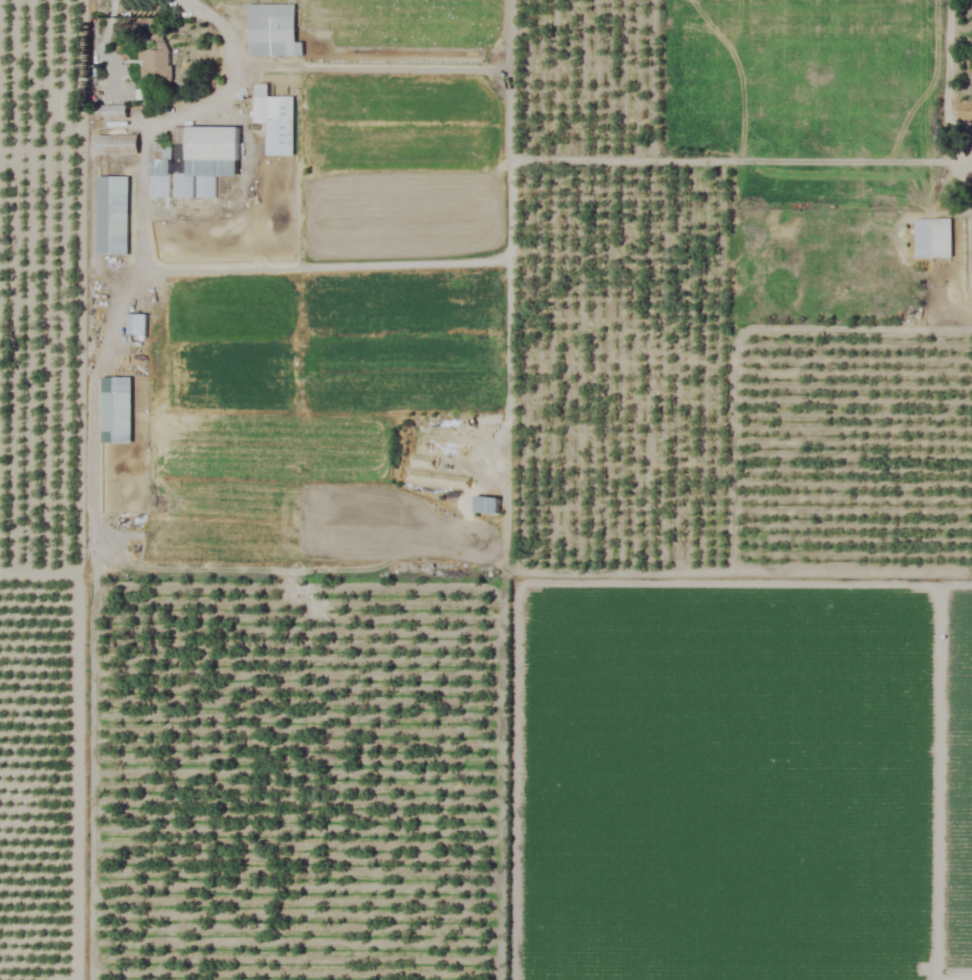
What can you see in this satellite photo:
building: (271, 31)
road: (948, 59)
building: (155, 66)
road: (227, 78)
building: (274, 121)
building: (117, 146)
building: (159, 153)
building: (206, 162)
building: (157, 186)
building: (112, 216)
building: (932, 239)
building: (135, 325)
building: (115, 410)
crop: (486, 490)
building: (486, 506)
road: (959, 979)

